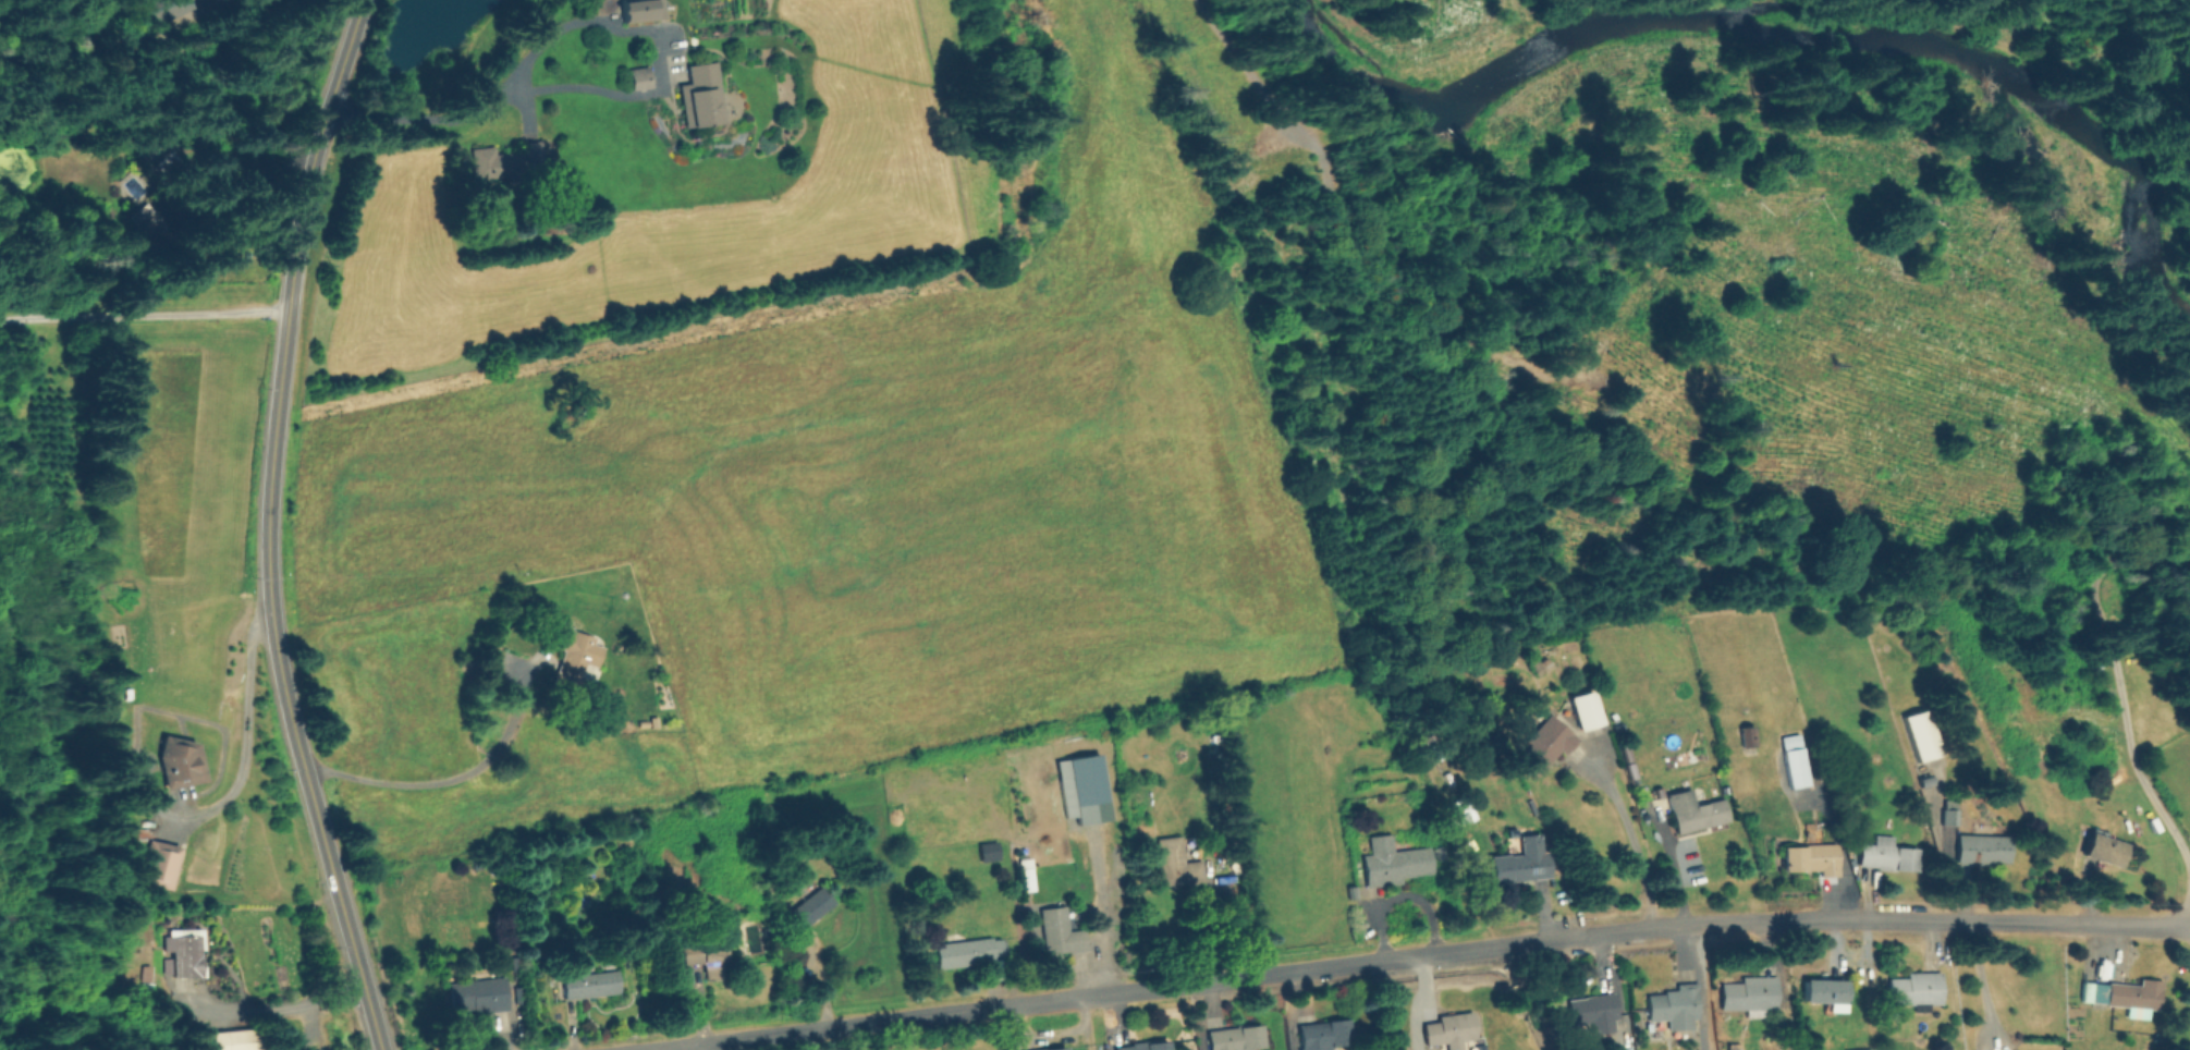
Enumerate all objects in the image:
road: (224, 4)
building: (162, 9)
building: (644, 10)
building: (640, 78)
road: (505, 84)
building: (702, 96)
building: (163, 148)
building: (506, 162)
building: (147, 222)
building: (1787, 230)
road: (1347, 236)
road: (144, 315)
road: (266, 526)
building: (2095, 589)
building: (574, 660)
building: (1541, 666)
building: (1622, 682)
building: (1587, 710)
road: (2121, 717)
building: (1922, 735)
building: (1749, 736)
building: (1547, 744)
building: (178, 761)
building: (1796, 761)
building: (1925, 780)
building: (1084, 781)
road: (440, 783)
road: (148, 797)
building: (1695, 811)
building: (1465, 813)
building: (1950, 813)
building: (1116, 838)
road: (1631, 838)
building: (1059, 846)
road: (1835, 848)
building: (2105, 848)
building: (1984, 850)
building: (990, 852)
building: (1886, 854)
building: (1804, 857)
building: (1394, 862)
building: (1177, 863)
building: (1520, 863)
road: (1668, 863)
building: (160, 865)
building: (1026, 874)
road: (1950, 877)
building: (1353, 892)
road: (1399, 895)
road: (1101, 904)
building: (809, 908)
road: (1542, 909)
building: (658, 924)
building: (1061, 932)
building: (965, 952)
building: (184, 953)
road: (1419, 954)
building: (707, 957)
road: (821, 977)
road: (1981, 982)
building: (590, 986)
road: (1614, 988)
building: (1917, 990)
building: (1825, 993)
building: (1750, 994)
building: (480, 996)
building: (2126, 997)
road: (1416, 1002)
building: (1676, 1004)
road: (699, 1005)
road: (261, 1010)
road: (1294, 1010)
building: (1583, 1014)
building: (1451, 1030)
building: (1324, 1035)
building: (1236, 1038)
building: (228, 1040)
building: (1149, 1046)
road: (706, 1047)
building: (1861, 1048)
building: (1059, 1049)

